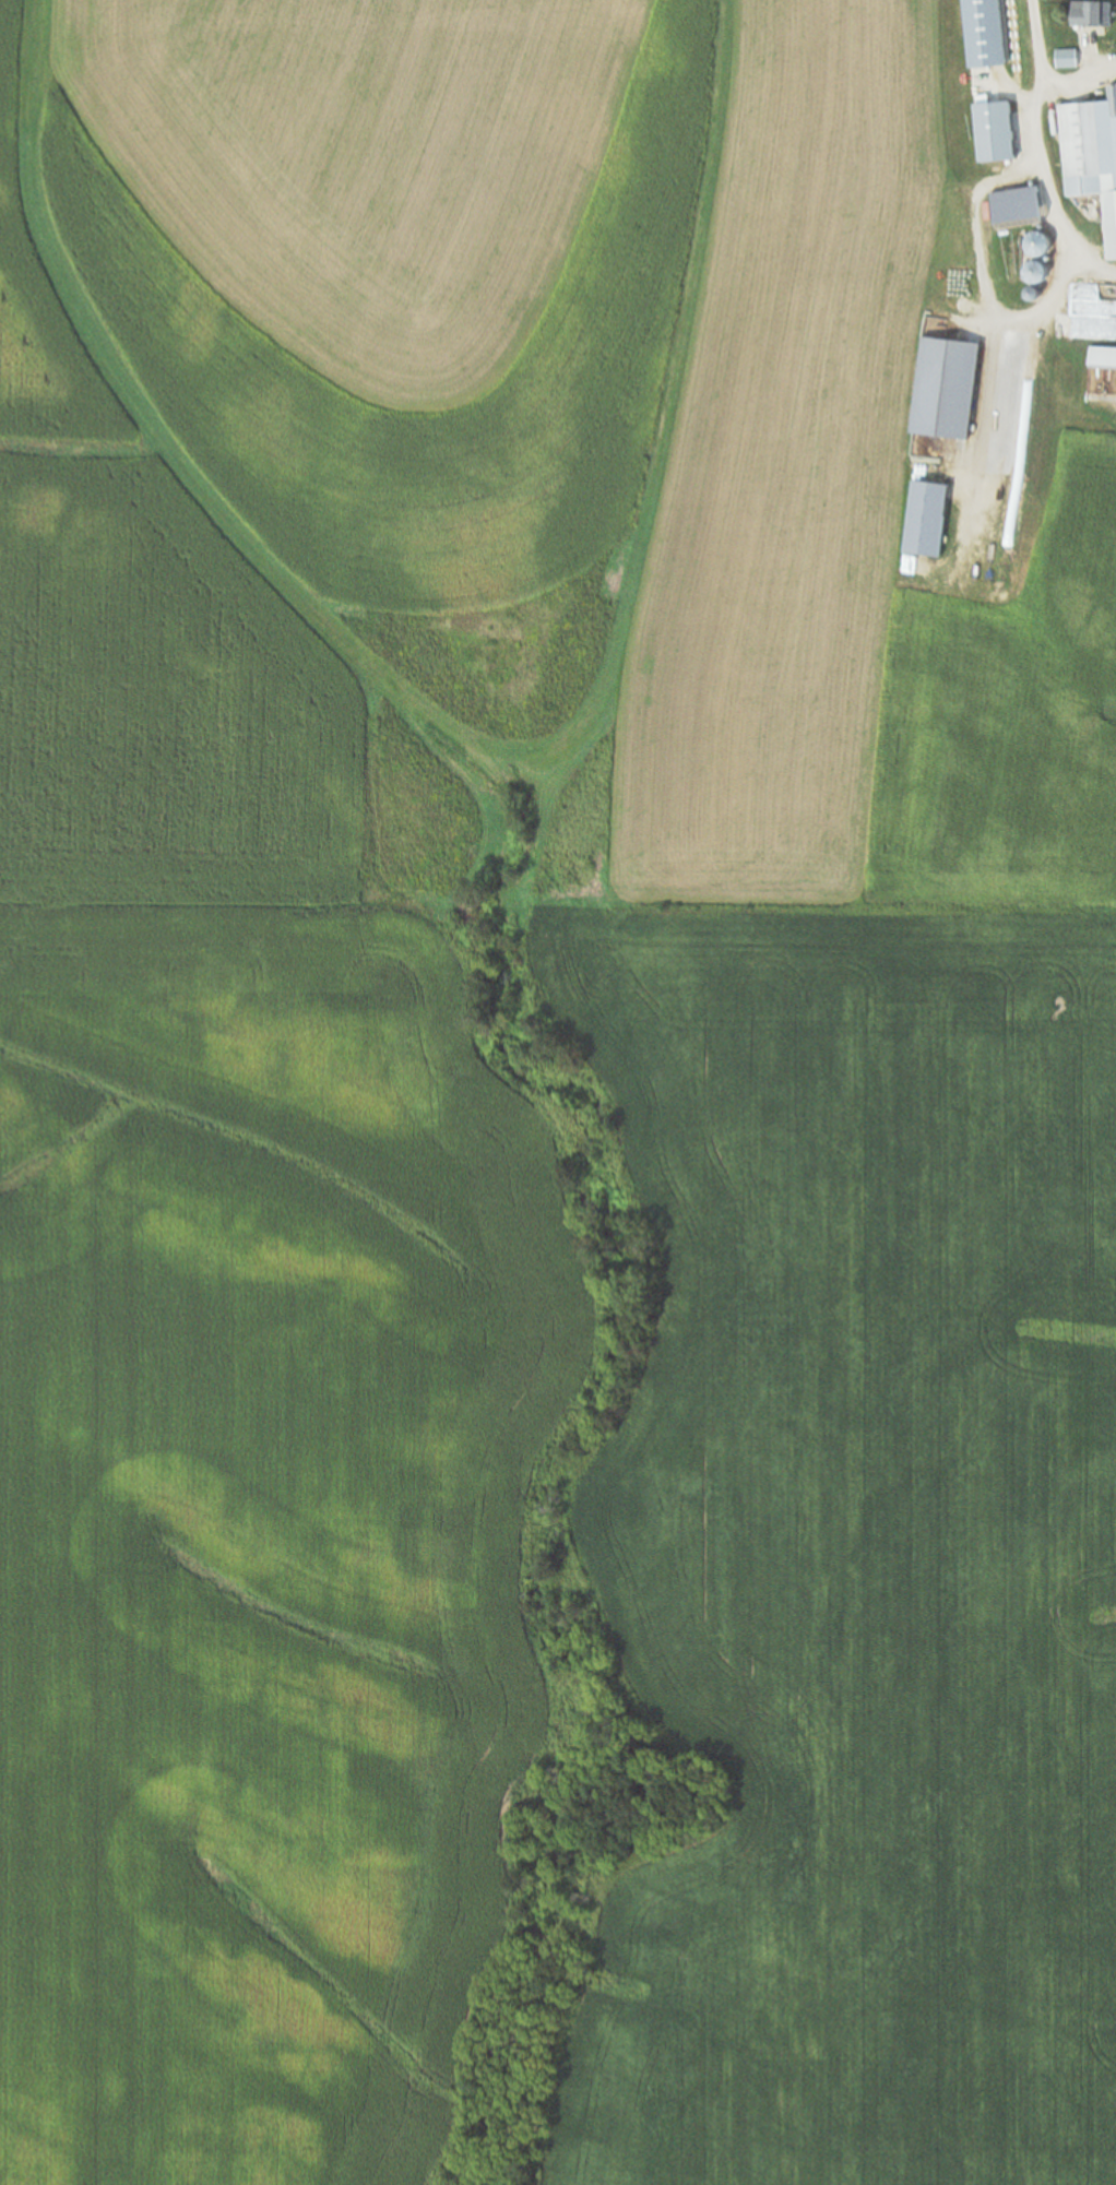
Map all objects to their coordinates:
building: (1094, 15)
building: (985, 33)
building: (1067, 59)
road: (1073, 75)
building: (994, 132)
road: (1025, 135)
building: (1092, 157)
building: (1035, 206)
building: (1037, 247)
building: (1035, 271)
building: (1102, 358)

